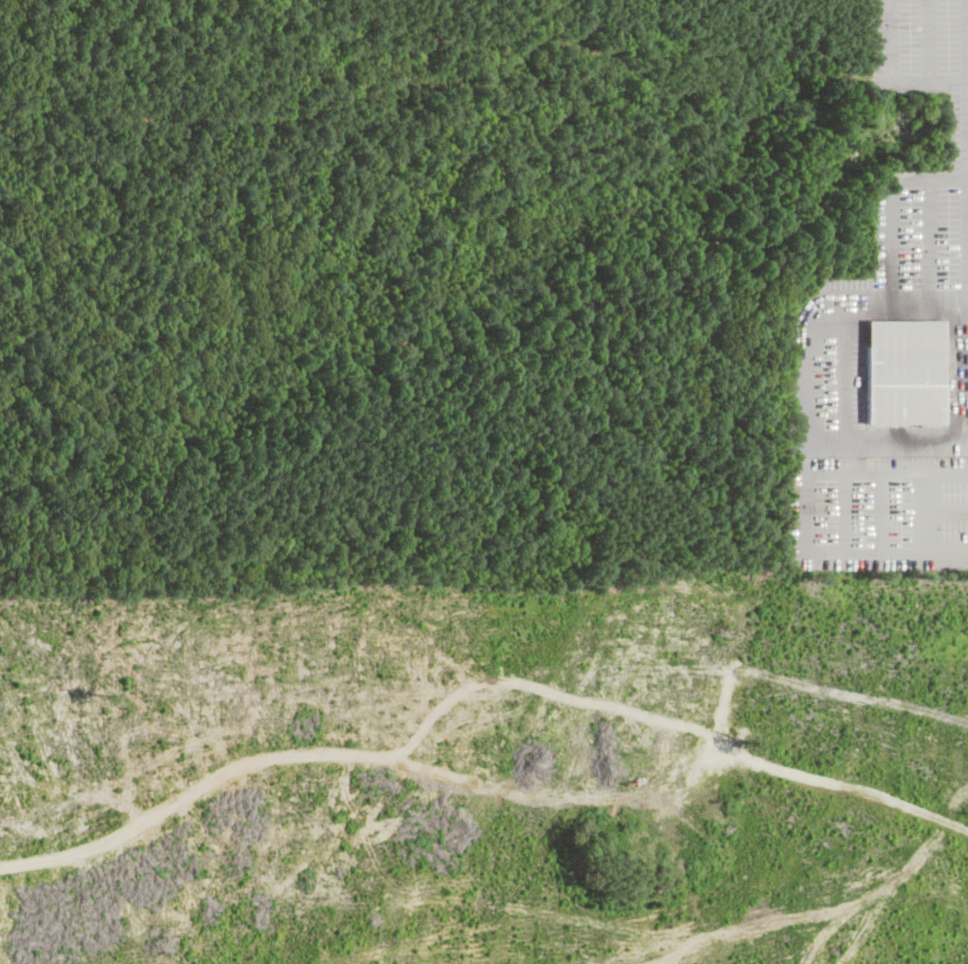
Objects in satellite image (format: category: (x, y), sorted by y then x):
parking lot: (921, 39)
road: (895, 57)
road: (967, 72)
road: (948, 78)
road: (894, 208)
parking lot: (924, 230)
road: (853, 371)
building: (903, 371)
parking lot: (867, 448)
road: (814, 477)
road: (927, 554)

